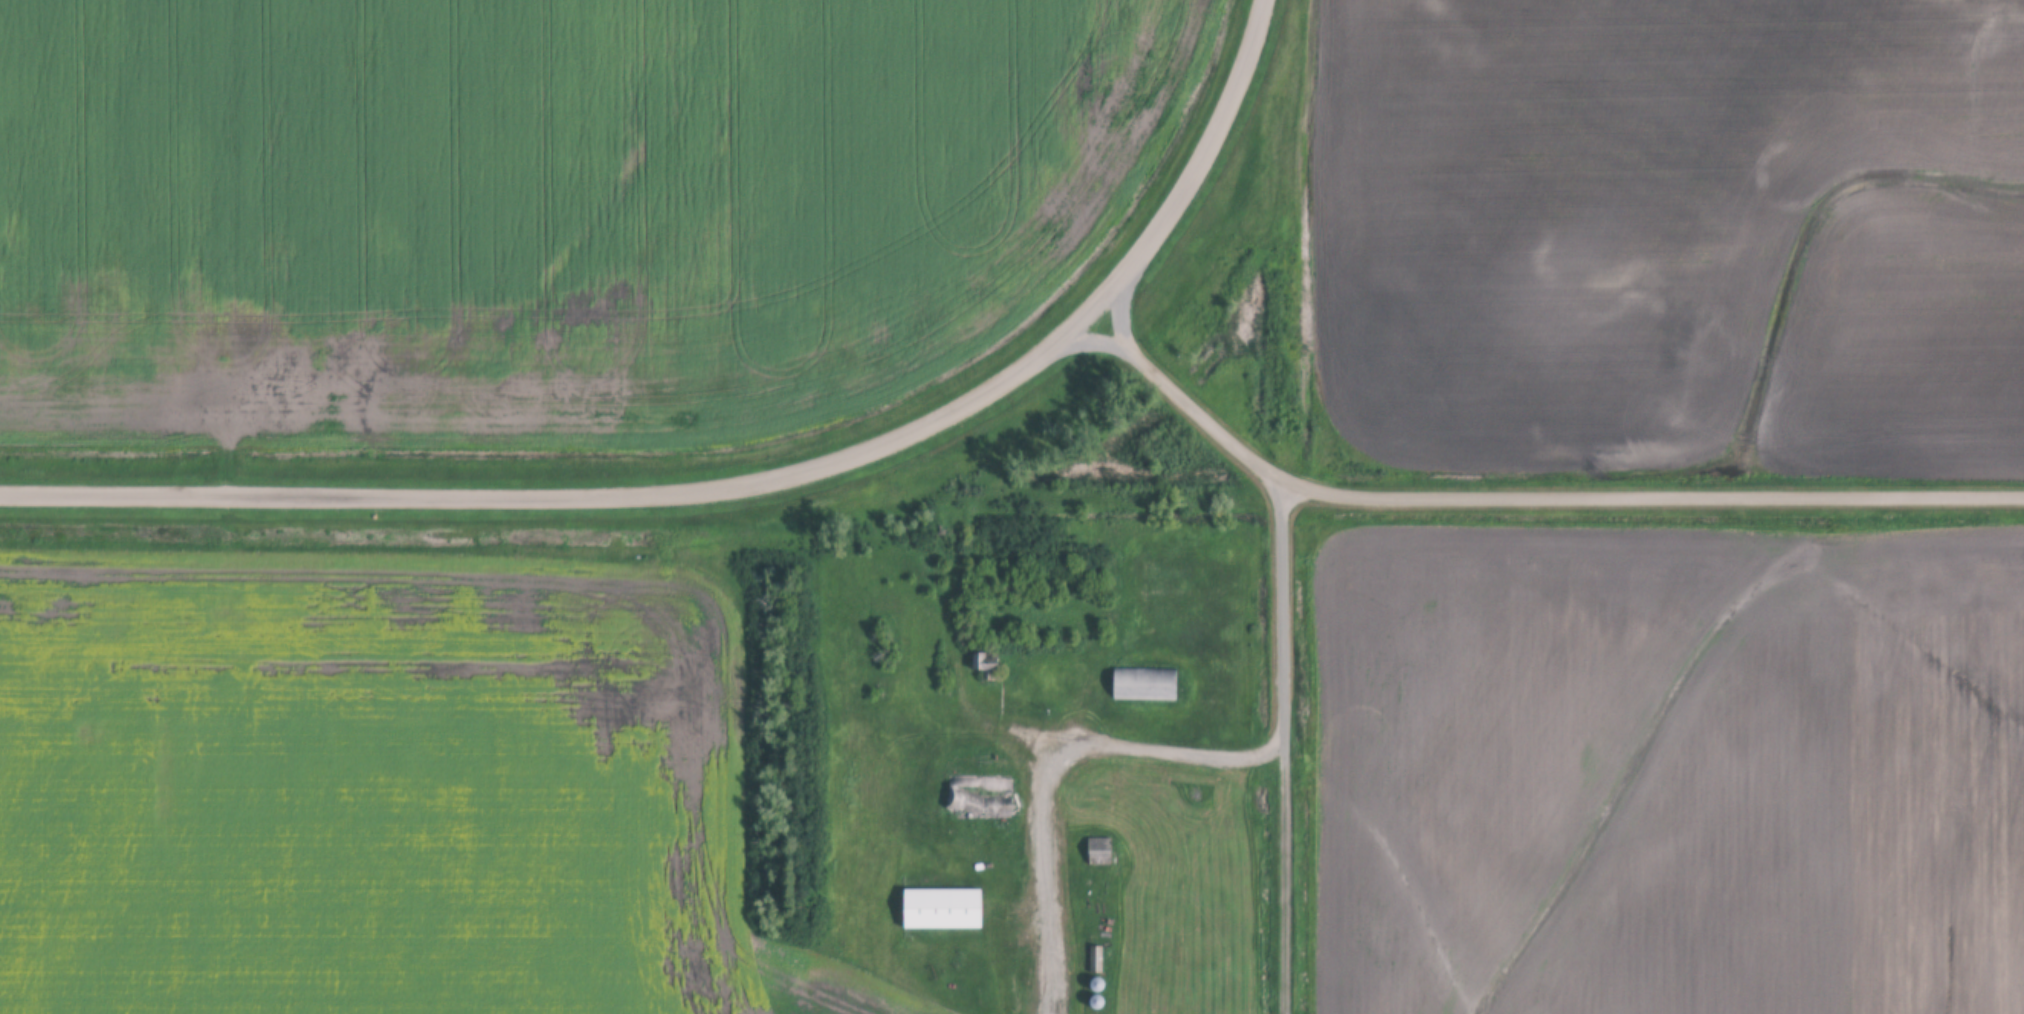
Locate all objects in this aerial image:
road: (1199, 168)
road: (569, 498)
road: (1525, 498)
road: (1285, 600)
building: (986, 650)
building: (982, 663)
building: (1147, 673)
road: (1046, 764)
building: (980, 779)
building: (1101, 840)
road: (1287, 877)
building: (942, 898)
building: (1097, 948)
building: (1096, 974)
silo: (1096, 974)
building: (1096, 991)
silo: (1096, 991)

